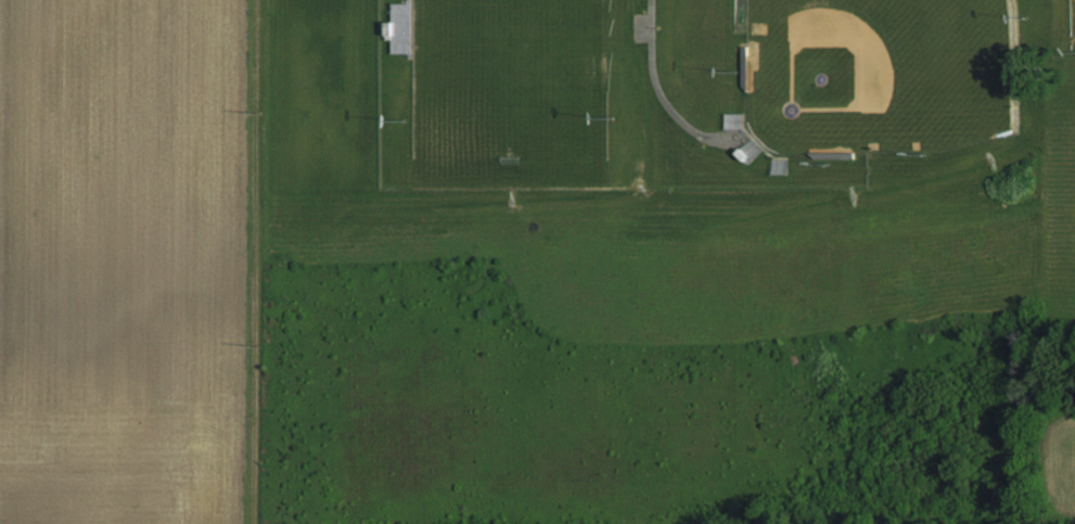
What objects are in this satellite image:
building: (401, 29)
road: (253, 261)

